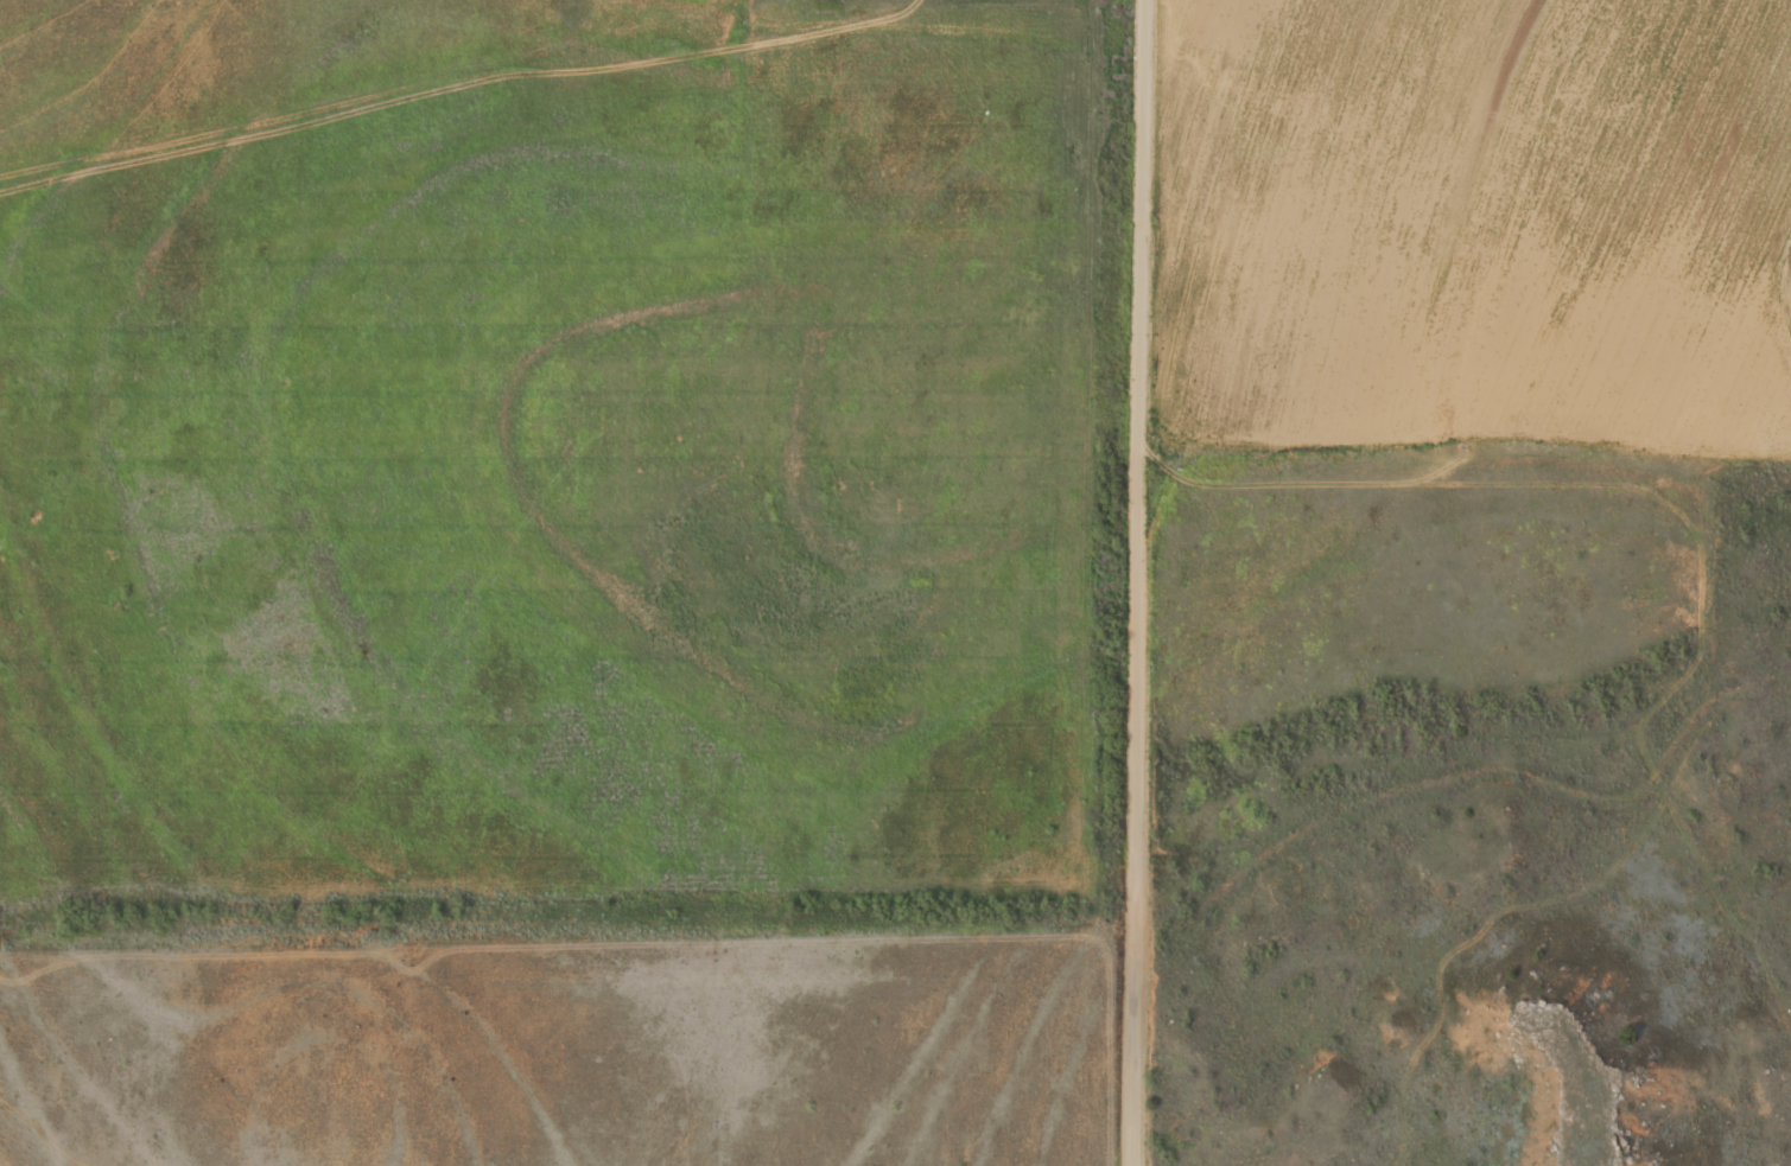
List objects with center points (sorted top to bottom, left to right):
road: (1466, 458)
road: (1139, 582)

